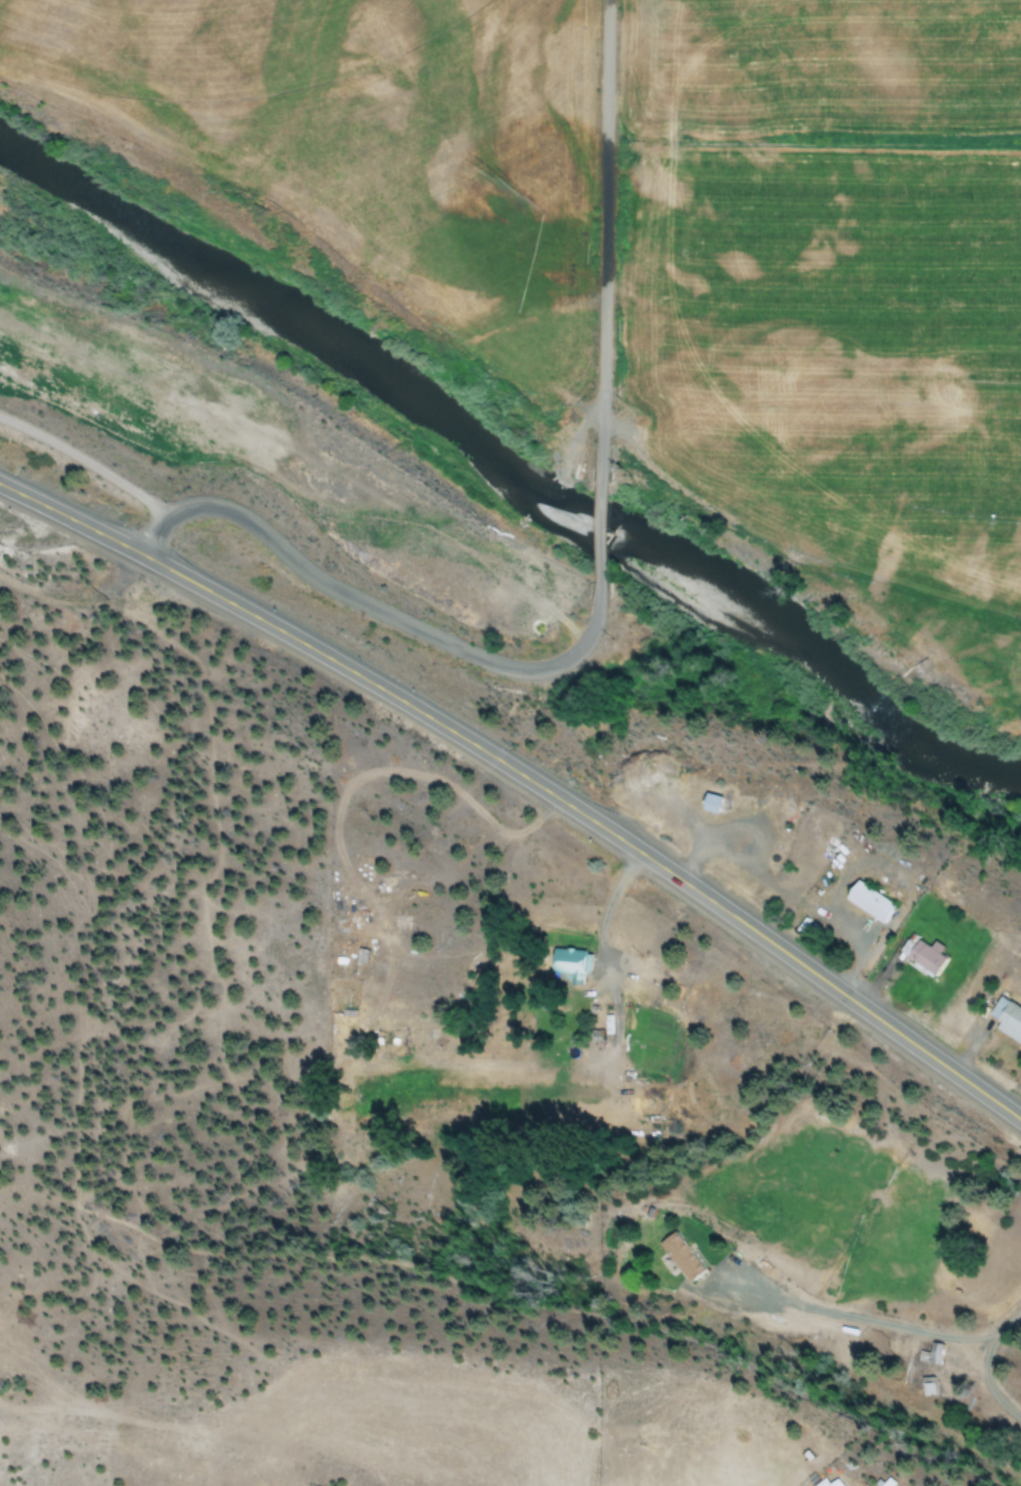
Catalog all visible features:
road: (607, 238)
river: (509, 472)
road: (601, 529)
road: (171, 567)
building: (539, 577)
road: (78, 601)
road: (379, 609)
building: (708, 805)
road: (686, 880)
building: (868, 904)
building: (364, 952)
building: (924, 960)
building: (566, 966)
building: (1005, 1021)
building: (680, 1258)
building: (933, 1354)
building: (930, 1387)
building: (884, 1482)

